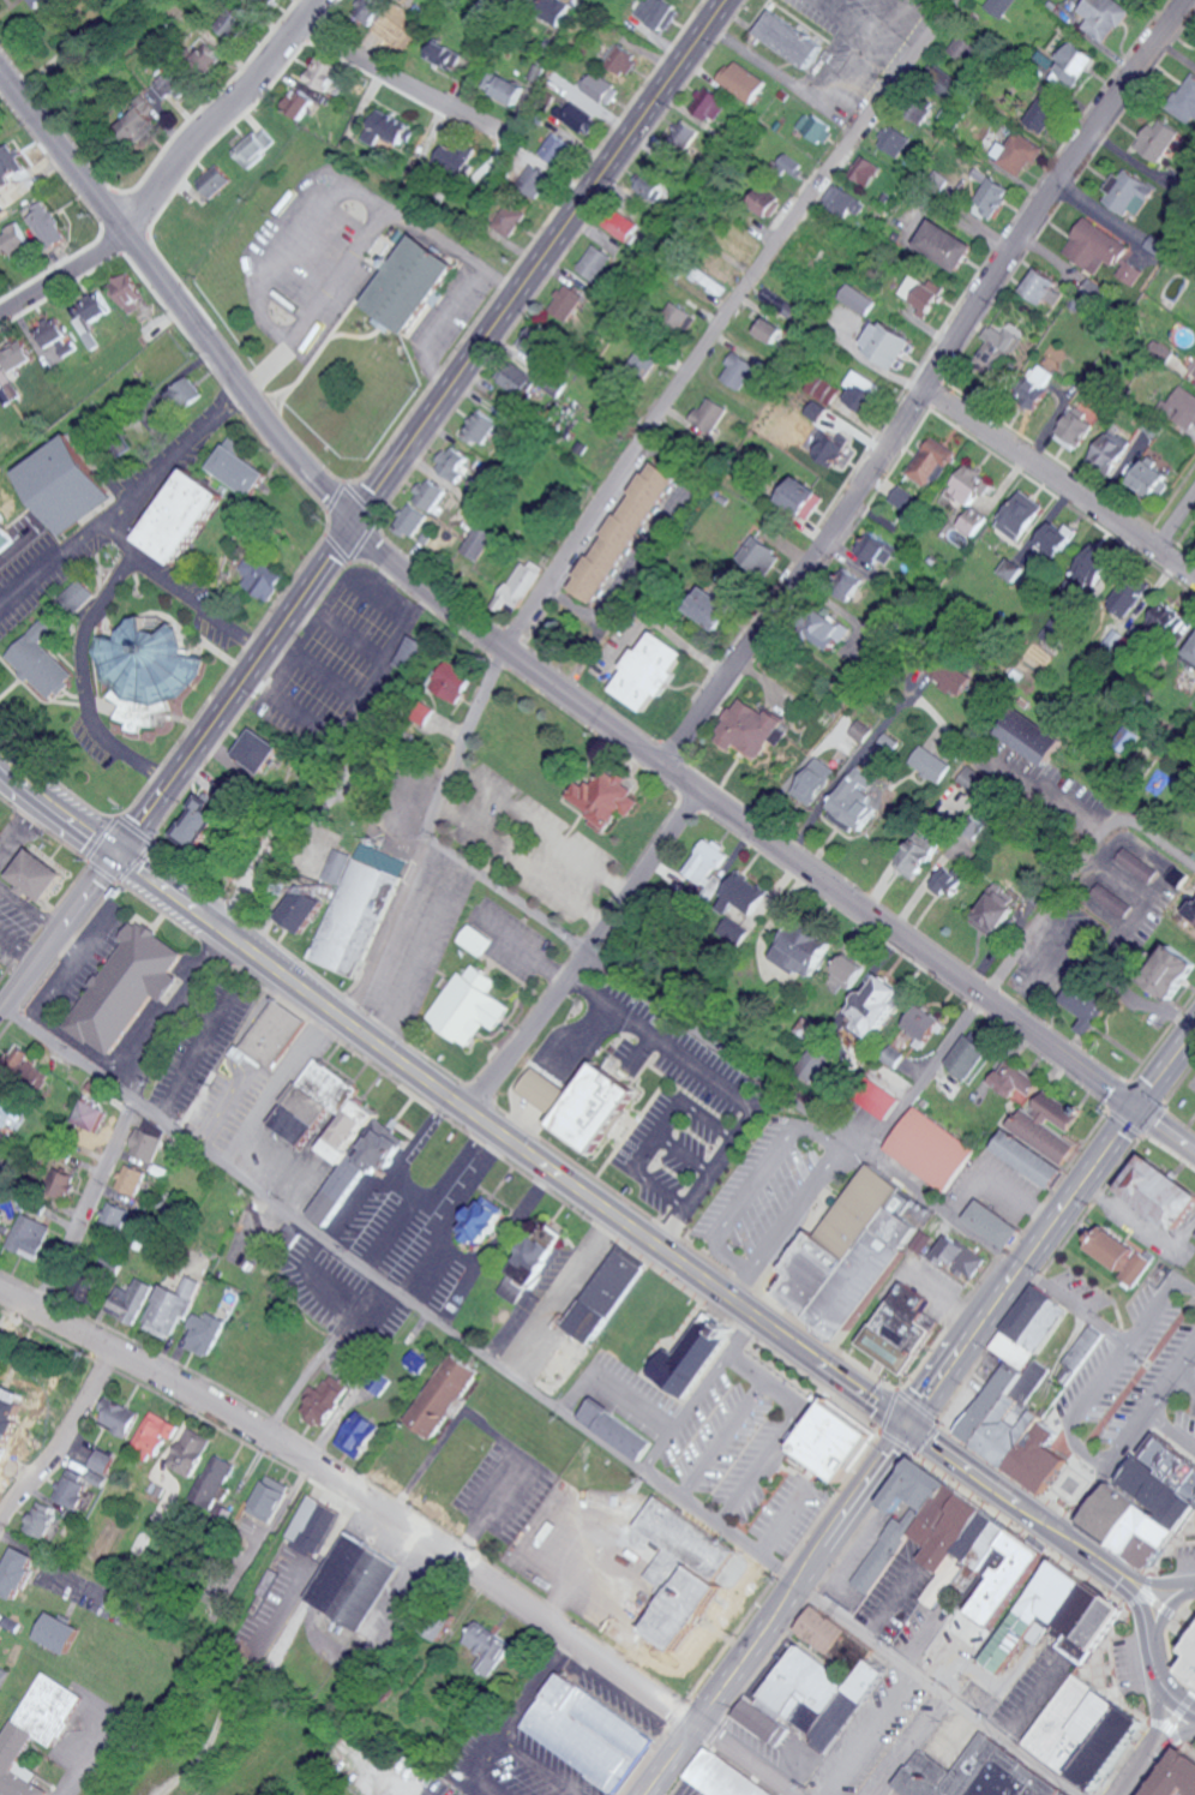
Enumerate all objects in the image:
building: (260, 1)
building: (41, 2)
building: (996, 6)
building: (367, 10)
building: (660, 12)
building: (554, 13)
building: (1104, 16)
road: (903, 19)
road: (863, 35)
building: (788, 38)
building: (202, 54)
building: (444, 55)
building: (620, 59)
building: (1075, 64)
building: (323, 73)
building: (168, 80)
building: (740, 80)
building: (941, 82)
road: (401, 84)
building: (505, 86)
building: (601, 88)
building: (1185, 100)
building: (298, 102)
building: (707, 103)
building: (920, 110)
road: (223, 113)
building: (1038, 113)
building: (580, 116)
building: (136, 121)
building: (386, 127)
building: (813, 127)
building: (680, 136)
building: (893, 139)
building: (1157, 140)
building: (253, 146)
building: (558, 148)
building: (1017, 155)
building: (456, 157)
building: (7, 163)
building: (789, 166)
building: (863, 170)
building: (535, 179)
building: (212, 181)
building: (651, 187)
building: (1127, 195)
building: (991, 198)
building: (764, 202)
building: (843, 203)
building: (0, 209)
road: (396, 215)
building: (510, 219)
building: (623, 222)
building: (43, 223)
building: (12, 240)
building: (945, 244)
building: (1095, 245)
building: (596, 262)
building: (1133, 271)
road: (66, 280)
road: (496, 281)
building: (412, 285)
building: (1046, 287)
building: (124, 291)
building: (923, 292)
building: (858, 299)
building: (565, 301)
building: (675, 315)
building: (86, 316)
building: (774, 334)
building: (53, 335)
building: (888, 345)
building: (539, 346)
building: (999, 347)
building: (641, 364)
building: (737, 370)
building: (1194, 371)
building: (516, 379)
building: (6, 384)
building: (553, 384)
road: (927, 384)
building: (1040, 385)
building: (822, 389)
building: (863, 390)
building: (181, 394)
building: (1182, 407)
building: (816, 409)
building: (709, 414)
road: (420, 426)
building: (479, 429)
building: (1075, 430)
building: (827, 445)
building: (1109, 453)
building: (932, 461)
building: (452, 462)
building: (240, 468)
building: (1151, 478)
road: (1061, 481)
building: (62, 484)
building: (971, 485)
road: (609, 489)
building: (427, 493)
building: (909, 495)
building: (803, 497)
road: (130, 508)
building: (1021, 515)
building: (181, 516)
building: (410, 521)
building: (973, 521)
road: (1176, 522)
building: (623, 532)
building: (4, 539)
building: (475, 542)
building: (877, 550)
building: (761, 555)
building: (1094, 563)
building: (1013, 569)
road: (380, 575)
building: (259, 578)
building: (520, 585)
building: (859, 590)
building: (78, 594)
building: (1124, 597)
road: (380, 602)
road: (199, 605)
building: (711, 608)
building: (1159, 624)
road: (305, 629)
road: (338, 630)
building: (830, 632)
building: (1052, 634)
building: (409, 653)
road: (86, 656)
parking lot: (344, 659)
building: (1191, 660)
road: (379, 664)
building: (46, 665)
road: (536, 671)
building: (651, 671)
building: (149, 674)
road: (307, 678)
building: (452, 680)
building: (953, 680)
building: (421, 713)
road: (294, 714)
building: (751, 729)
building: (1032, 736)
building: (253, 750)
building: (930, 764)
building: (815, 780)
building: (605, 798)
building: (854, 801)
road: (1063, 801)
building: (197, 822)
road: (534, 826)
road: (1157, 845)
building: (919, 855)
building: (705, 861)
building: (1136, 864)
building: (335, 867)
building: (36, 875)
building: (949, 881)
building: (711, 886)
building: (741, 896)
building: (1111, 901)
building: (299, 909)
building: (355, 910)
building: (993, 910)
building: (1191, 910)
building: (733, 931)
road: (58, 934)
building: (473, 940)
road: (574, 944)
building: (798, 950)
building: (847, 971)
building: (1175, 977)
building: (126, 987)
building: (467, 1006)
building: (876, 1006)
building: (1087, 1007)
road: (1, 1010)
road: (350, 1025)
building: (920, 1025)
building: (272, 1035)
road: (663, 1042)
road: (722, 1048)
building: (813, 1058)
building: (965, 1058)
road: (932, 1065)
building: (25, 1067)
building: (1019, 1084)
building: (535, 1087)
building: (98, 1089)
road: (1143, 1091)
road: (1117, 1094)
building: (876, 1100)
building: (312, 1102)
parking lot: (686, 1107)
building: (6, 1108)
building: (90, 1115)
building: (593, 1117)
road: (131, 1119)
road: (1151, 1119)
road: (1122, 1123)
building: (1049, 1127)
road: (665, 1131)
road: (845, 1142)
building: (148, 1145)
road: (1106, 1148)
building: (933, 1154)
building: (355, 1156)
road: (692, 1156)
building: (1028, 1160)
road: (725, 1173)
road: (758, 1178)
building: (133, 1180)
road: (368, 1184)
building: (66, 1185)
parking lot: (779, 1193)
road: (427, 1195)
building: (1164, 1198)
road: (798, 1205)
road: (454, 1209)
building: (1, 1214)
building: (118, 1217)
building: (481, 1222)
building: (993, 1223)
road: (499, 1235)
building: (31, 1237)
building: (925, 1241)
road: (1003, 1251)
building: (959, 1255)
building: (532, 1261)
building: (853, 1262)
building: (1121, 1264)
road: (1039, 1278)
road: (740, 1282)
road: (336, 1293)
building: (605, 1296)
building: (131, 1300)
road: (1074, 1304)
building: (173, 1306)
building: (1031, 1327)
building: (897, 1332)
building: (206, 1334)
road: (744, 1335)
building: (1083, 1346)
road: (963, 1347)
building: (689, 1353)
road: (807, 1353)
road: (310, 1368)
road: (1107, 1369)
parking lot: (1131, 1371)
road: (764, 1378)
road: (1187, 1380)
road: (613, 1388)
building: (442, 1394)
building: (323, 1399)
road: (541, 1400)
road: (918, 1404)
road: (887, 1410)
building: (1005, 1411)
road: (686, 1413)
building: (119, 1414)
building: (10, 1419)
traffic signals: (908, 1426)
road: (1173, 1426)
building: (156, 1431)
road: (1136, 1431)
building: (358, 1434)
building: (624, 1436)
road: (719, 1437)
road: (926, 1437)
building: (837, 1438)
road: (899, 1442)
road: (70, 1449)
building: (188, 1452)
building: (103, 1460)
building: (1052, 1464)
road: (757, 1467)
building: (98, 1477)
building: (214, 1478)
building: (73, 1488)
building: (266, 1497)
road: (1044, 1497)
road: (1019, 1507)
building: (1148, 1508)
building: (42, 1518)
road: (409, 1520)
building: (311, 1524)
building: (905, 1528)
building: (54, 1531)
building: (961, 1531)
building: (689, 1545)
road: (1171, 1545)
road: (785, 1561)
building: (17, 1570)
building: (352, 1580)
road: (819, 1582)
road: (1146, 1582)
road: (1189, 1582)
building: (1008, 1593)
road: (1158, 1593)
road: (1135, 1600)
road: (1159, 1604)
road: (776, 1610)
road: (1159, 1610)
road: (1143, 1615)
building: (822, 1628)
building: (1041, 1629)
building: (58, 1631)
building: (494, 1653)
road: (1169, 1656)
building: (1191, 1658)
road: (1085, 1673)
building: (2, 1674)
road: (1160, 1686)
building: (811, 1699)
road: (710, 1704)
road: (1183, 1705)
road: (679, 1707)
road: (1159, 1721)
road: (1170, 1721)
road: (1177, 1729)
building: (35, 1730)
building: (1086, 1730)
building: (588, 1731)
road: (866, 1733)
road: (1176, 1734)
road: (719, 1735)
road: (686, 1739)
road: (1187, 1751)
road: (84, 1754)
road: (1145, 1769)
building: (972, 1776)
building: (723, 1777)
building: (1182, 1779)
building: (319, 1793)

